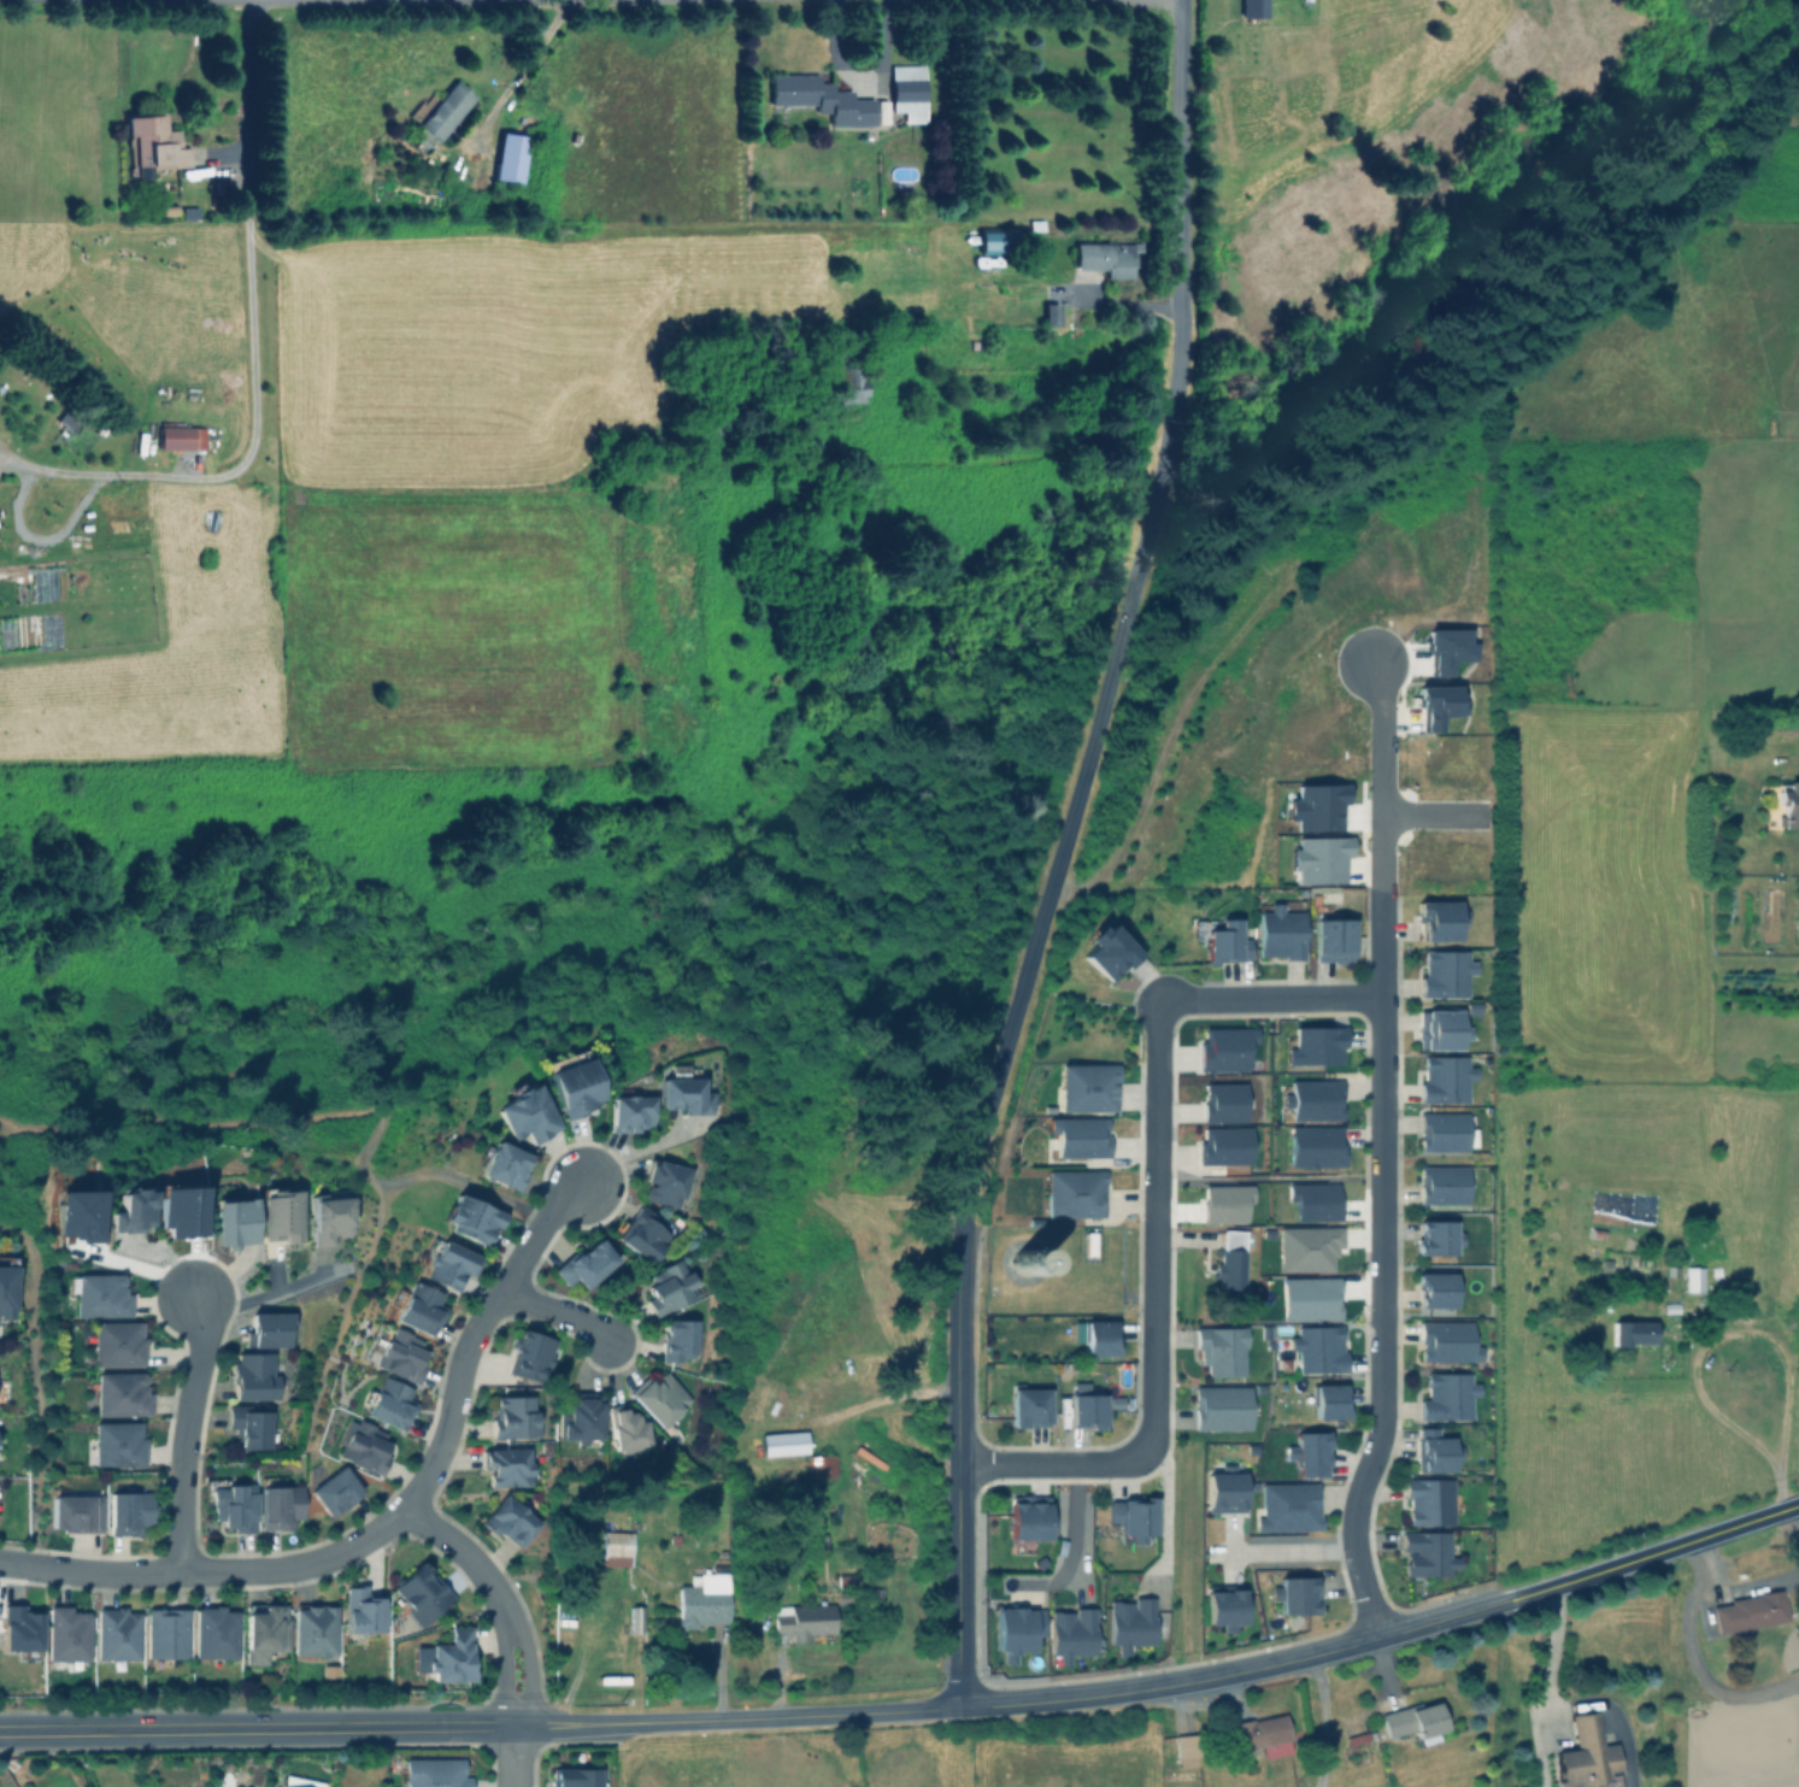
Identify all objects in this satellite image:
road: (248, 1)
road: (378, 1)
building: (1253, 8)
road: (518, 71)
building: (907, 92)
building: (822, 99)
building: (445, 111)
building: (153, 145)
building: (508, 157)
road: (1182, 227)
building: (990, 242)
road: (1116, 301)
building: (852, 386)
road: (253, 411)
building: (181, 437)
road: (64, 472)
building: (1439, 705)
building: (1316, 806)
road: (1435, 813)
road: (1069, 836)
building: (1318, 859)
building: (1439, 919)
building: (1280, 933)
building: (1331, 940)
building: (1225, 942)
building: (1107, 951)
building: (1445, 972)
road: (1270, 999)
building: (1440, 1029)
building: (1316, 1046)
building: (1224, 1048)
building: (1445, 1078)
building: (574, 1087)
building: (1087, 1087)
building: (682, 1092)
road: (1378, 1098)
building: (1312, 1100)
building: (1223, 1103)
building: (628, 1113)
building: (527, 1115)
building: (1442, 1131)
building: (1078, 1136)
building: (1224, 1145)
building: (1315, 1146)
building: (502, 1165)
building: (665, 1183)
building: (1442, 1185)
building: (1074, 1193)
building: (1313, 1201)
building: (1225, 1203)
building: (131, 1211)
building: (280, 1216)
building: (327, 1219)
building: (470, 1219)
building: (233, 1222)
road: (1153, 1229)
building: (643, 1234)
building: (1436, 1238)
building: (274, 1247)
building: (1307, 1248)
building: (586, 1264)
building: (447, 1265)
building: (1025, 1265)
building: (1230, 1269)
building: (1693, 1278)
building: (669, 1287)
building: (1434, 1289)
building: (7, 1292)
road: (264, 1294)
building: (101, 1295)
building: (1309, 1298)
building: (417, 1309)
road: (563, 1312)
building: (269, 1329)
road: (1740, 1330)
building: (1633, 1332)
building: (677, 1340)
building: (1447, 1341)
building: (118, 1344)
building: (1219, 1350)
building: (1317, 1350)
building: (400, 1356)
building: (530, 1356)
building: (253, 1377)
building: (122, 1394)
building: (1446, 1397)
building: (659, 1398)
building: (1328, 1401)
building: (389, 1404)
building: (1028, 1407)
building: (1219, 1407)
building: (1086, 1411)
building: (513, 1417)
building: (580, 1421)
building: (248, 1428)
road: (184, 1430)
building: (625, 1430)
building: (118, 1444)
building: (782, 1444)
building: (363, 1446)
building: (1433, 1451)
building: (1309, 1453)
road: (960, 1463)
building: (819, 1465)
road: (1052, 1465)
building: (506, 1466)
building: (334, 1491)
building: (1223, 1492)
building: (1427, 1501)
building: (278, 1506)
building: (1287, 1506)
building: (231, 1507)
building: (128, 1511)
building: (75, 1512)
road: (1165, 1513)
building: (1028, 1517)
building: (1131, 1517)
building: (508, 1521)
road: (389, 1526)
building: (615, 1548)
road: (1286, 1551)
building: (1425, 1553)
road: (1648, 1553)
road: (1360, 1583)
building: (421, 1593)
building: (1295, 1594)
road: (502, 1597)
building: (702, 1601)
building: (1223, 1609)
building: (361, 1610)
building: (1747, 1612)
building: (803, 1621)
building: (1130, 1623)
building: (19, 1628)
building: (1016, 1629)
building: (313, 1630)
building: (165, 1633)
building: (214, 1633)
building: (264, 1633)
building: (1071, 1633)
building: (66, 1634)
building: (116, 1634)
building: (451, 1657)
road: (1548, 1660)
road: (1233, 1675)
road: (737, 1717)
building: (1411, 1720)
road: (1323, 1721)
road: (257, 1727)
building: (1262, 1735)
building: (1184, 1751)
road: (515, 1756)
building: (1586, 1756)
building: (434, 1773)
building: (572, 1777)
building: (284, 1786)

